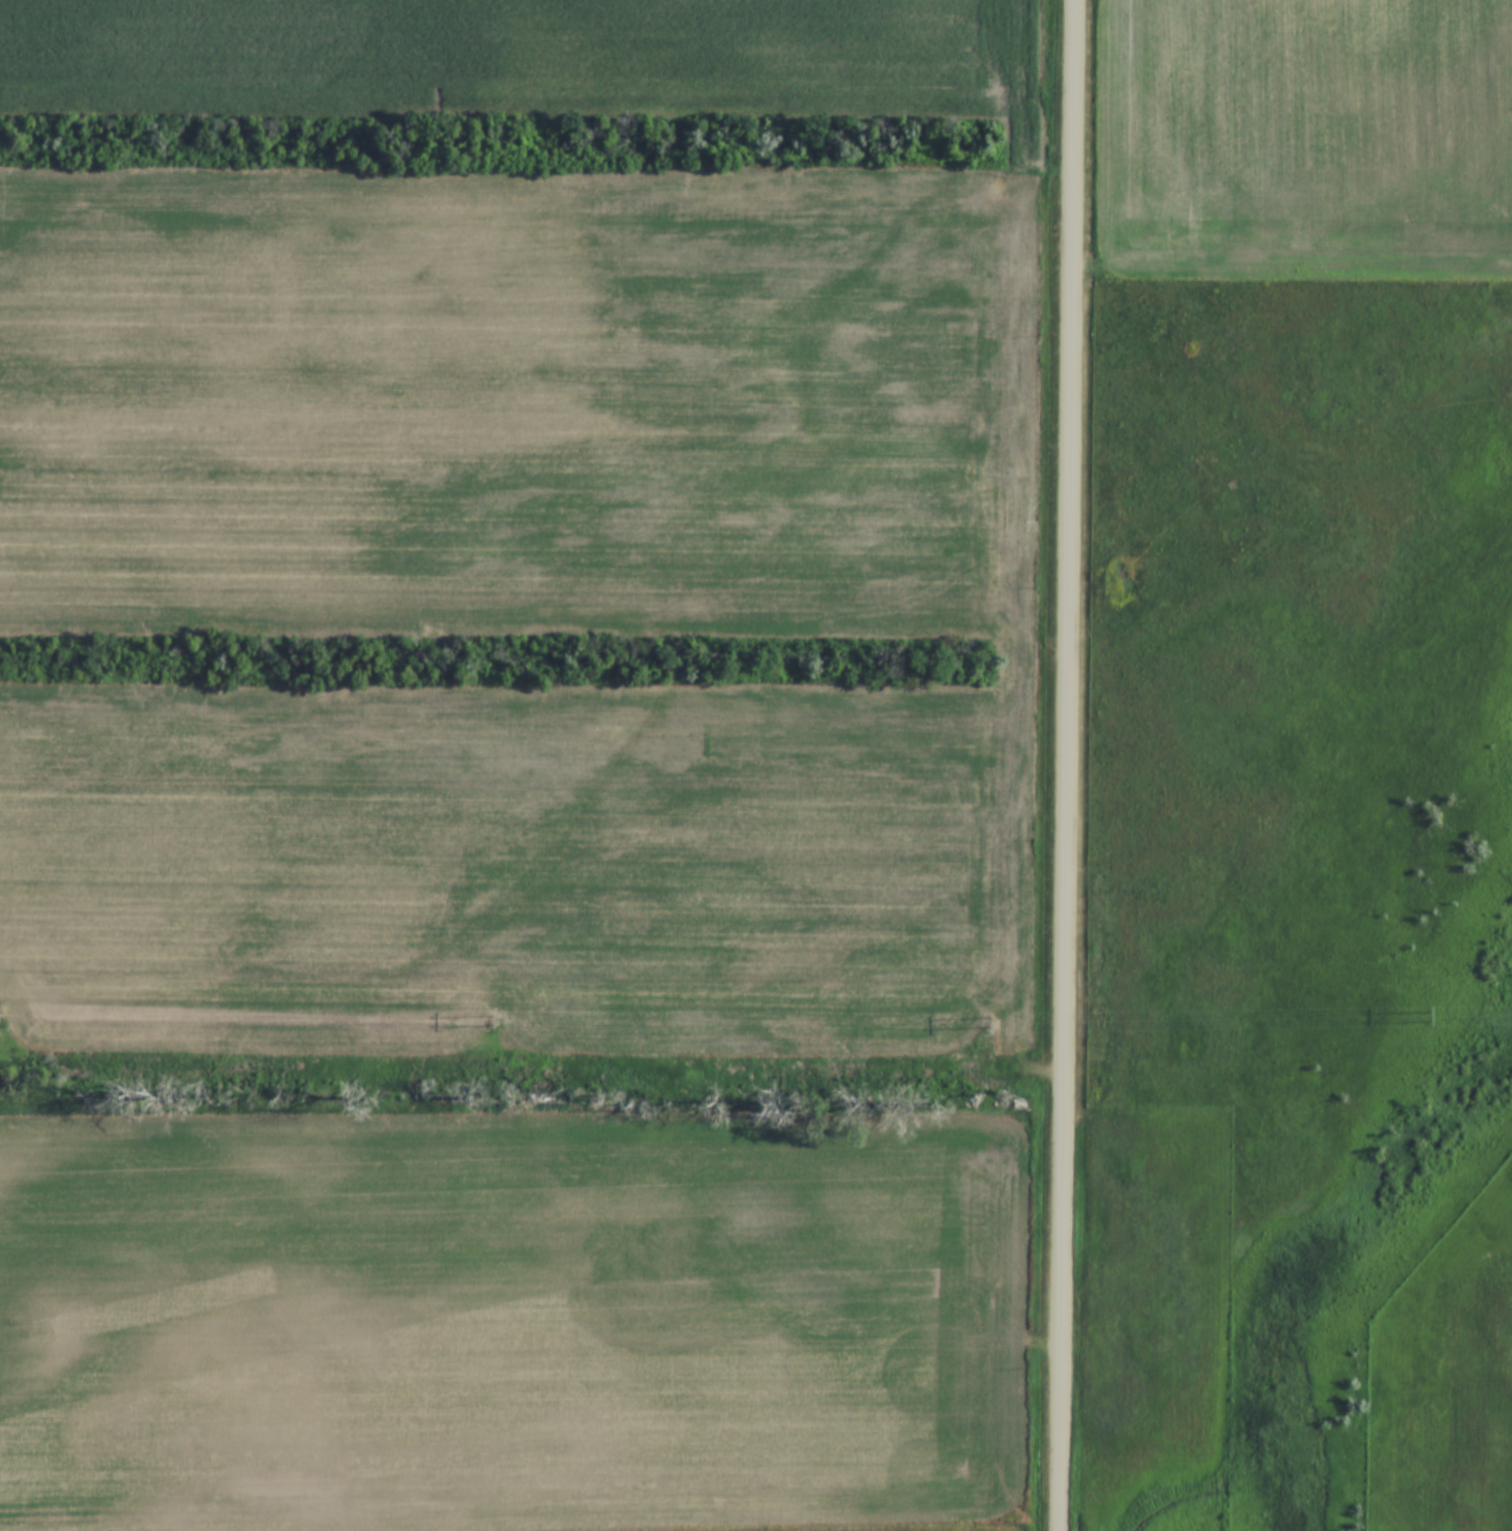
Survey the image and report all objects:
road: (1072, 765)
power tower: (1430, 1016)
power tower: (990, 1021)
power tower: (492, 1023)

